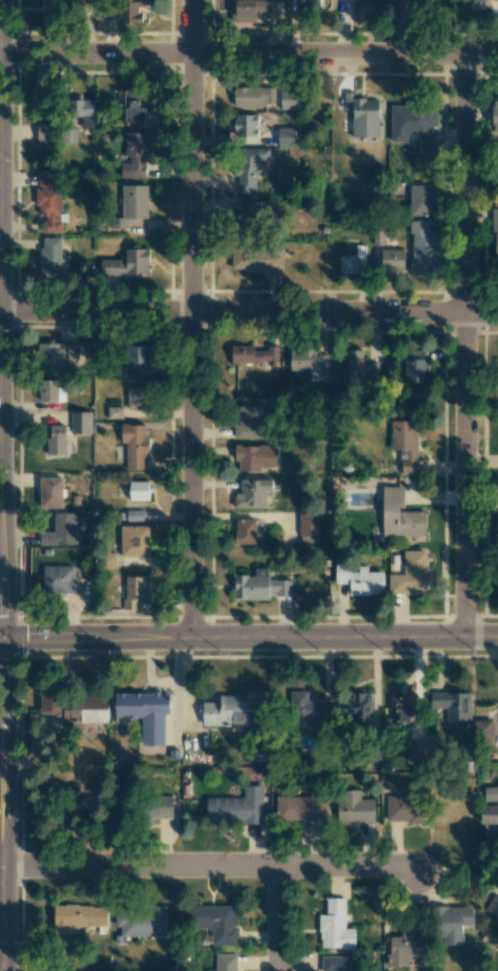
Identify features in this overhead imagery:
building: (372, 2)
building: (309, 4)
building: (51, 10)
building: (130, 10)
building: (253, 12)
road: (249, 54)
building: (254, 96)
building: (291, 99)
building: (42, 100)
building: (133, 105)
building: (82, 111)
building: (363, 115)
building: (495, 115)
building: (415, 125)
building: (246, 126)
building: (44, 132)
building: (70, 135)
building: (286, 137)
building: (134, 156)
road: (0, 166)
building: (249, 168)
building: (421, 198)
building: (49, 201)
building: (132, 205)
building: (246, 209)
building: (495, 235)
building: (423, 248)
building: (51, 258)
building: (257, 260)
building: (392, 260)
building: (351, 261)
building: (127, 264)
road: (250, 312)
road: (190, 319)
road: (462, 346)
building: (70, 351)
building: (253, 354)
building: (49, 357)
building: (138, 357)
building: (302, 360)
building: (322, 365)
building: (359, 366)
building: (415, 366)
building: (50, 391)
building: (137, 398)
building: (115, 412)
building: (80, 422)
building: (248, 422)
building: (56, 439)
building: (405, 444)
building: (135, 445)
building: (255, 457)
road: (4, 485)
building: (139, 490)
building: (50, 492)
building: (252, 493)
building: (134, 515)
building: (399, 515)
building: (308, 524)
building: (61, 530)
building: (245, 531)
building: (309, 539)
building: (135, 541)
building: (109, 560)
building: (410, 573)
building: (62, 580)
building: (359, 580)
building: (251, 586)
building: (280, 587)
building: (135, 591)
road: (2, 637)
road: (251, 638)
building: (75, 707)
building: (451, 707)
building: (361, 708)
building: (403, 708)
building: (233, 710)
building: (145, 713)
building: (318, 713)
building: (486, 733)
building: (417, 750)
building: (491, 793)
building: (86, 798)
building: (161, 807)
building: (237, 807)
building: (301, 808)
building: (354, 808)
building: (404, 808)
building: (489, 818)
road: (210, 865)
building: (492, 906)
building: (77, 918)
road: (280, 919)
building: (141, 921)
building: (215, 923)
building: (453, 923)
building: (335, 926)
building: (406, 943)
building: (226, 962)
building: (338, 963)

